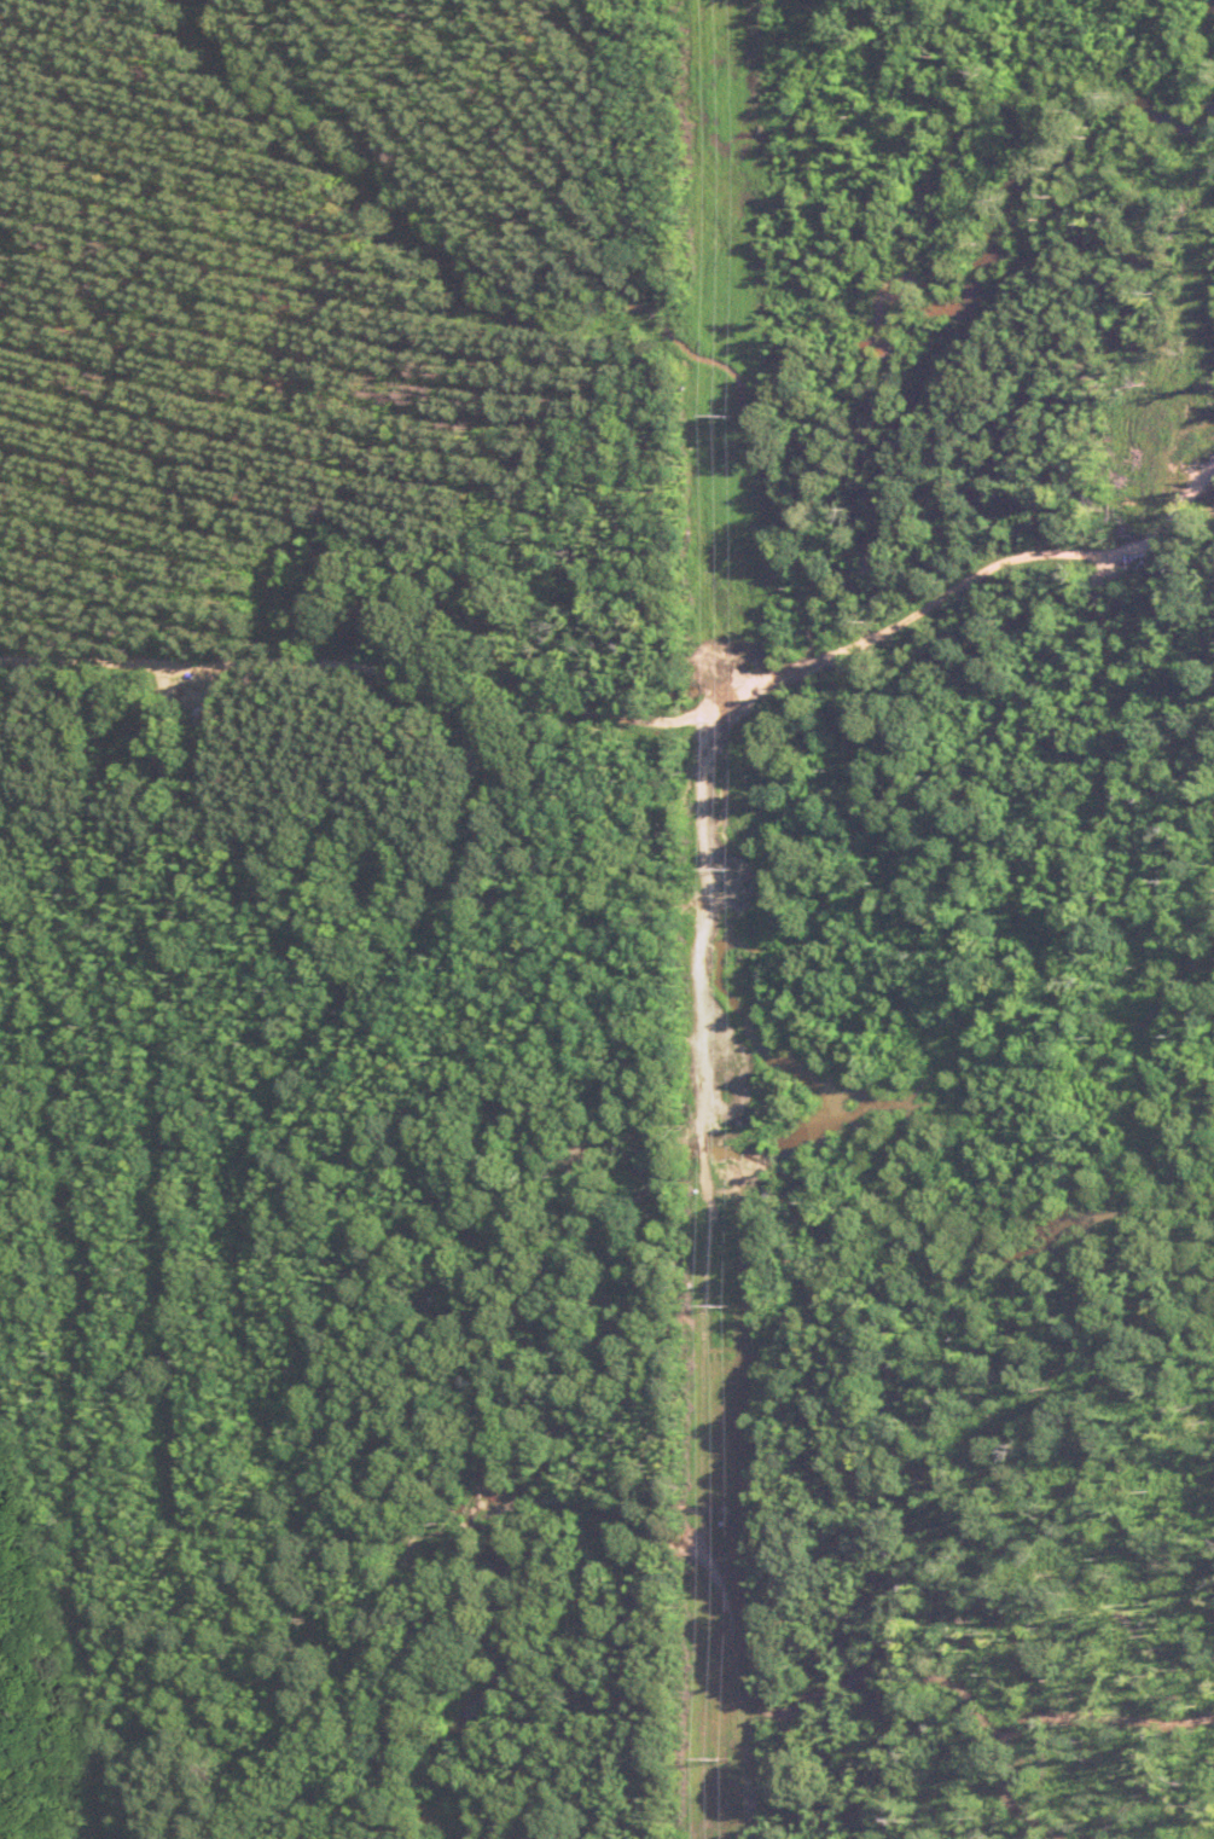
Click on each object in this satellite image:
power tower: (727, 411)
building: (172, 737)
power tower: (724, 866)
power tower: (722, 1304)
power tower: (724, 1756)

